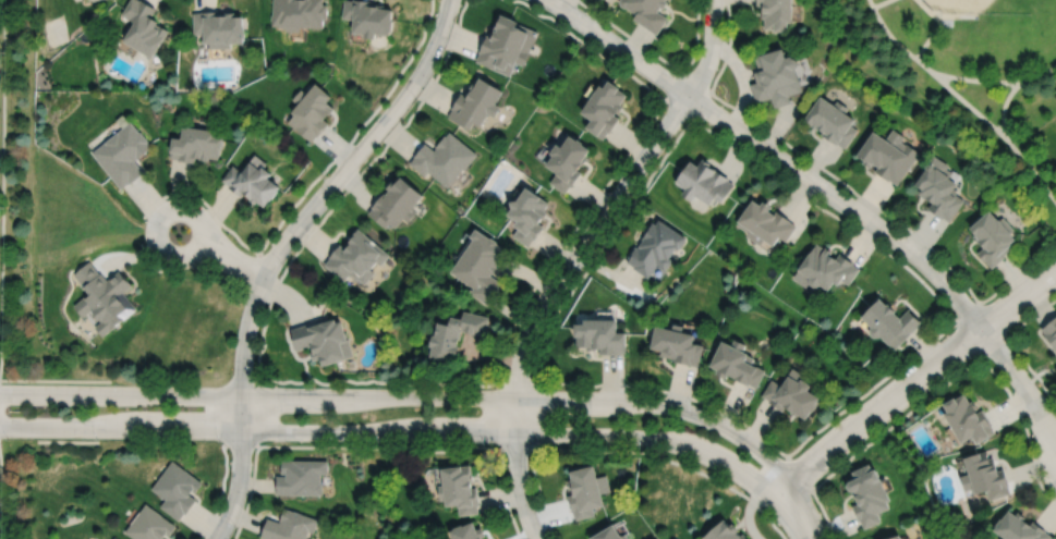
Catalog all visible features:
building: (89, 0)
road: (879, 3)
park: (981, 7)
street lamp: (584, 11)
building: (646, 12)
building: (299, 13)
building: (776, 13)
road: (943, 14)
building: (369, 16)
building: (143, 27)
building: (219, 27)
street lamp: (724, 36)
road: (928, 36)
building: (508, 45)
road: (659, 56)
road: (681, 72)
park: (967, 73)
road: (946, 75)
building: (775, 76)
road: (664, 98)
road: (666, 98)
street lamp: (416, 101)
building: (477, 103)
road: (969, 106)
building: (604, 107)
building: (312, 111)
road: (693, 118)
street lamp: (704, 119)
building: (832, 120)
building: (195, 145)
road: (1010, 145)
building: (123, 155)
road: (773, 155)
building: (888, 155)
building: (445, 159)
road: (810, 160)
building: (570, 162)
street lamp: (627, 162)
street lamp: (323, 176)
street lamp: (829, 180)
building: (253, 182)
building: (703, 182)
road: (2, 184)
building: (939, 188)
road: (615, 198)
road: (316, 204)
building: (397, 204)
road: (173, 208)
road: (287, 211)
building: (530, 216)
building: (765, 223)
building: (992, 238)
building: (655, 247)
street lamp: (932, 254)
building: (356, 258)
road: (903, 264)
street lamp: (282, 267)
building: (482, 267)
street lamp: (163, 268)
street lamp: (581, 268)
building: (825, 269)
road: (1015, 274)
building: (105, 298)
building: (890, 323)
building: (1051, 333)
building: (458, 335)
building: (600, 336)
road: (1007, 336)
building: (324, 342)
building: (676, 345)
road: (1013, 345)
road: (983, 354)
road: (982, 356)
street lamp: (971, 357)
building: (736, 365)
street lamp: (254, 368)
street lamp: (531, 371)
road: (917, 378)
road: (54, 380)
road: (1020, 381)
street lamp: (10, 383)
street lamp: (117, 383)
road: (414, 384)
road: (519, 384)
road: (939, 389)
street lamp: (875, 391)
building: (793, 394)
road: (408, 396)
street lamp: (692, 403)
road: (256, 409)
road: (503, 416)
building: (969, 418)
road: (396, 433)
road: (533, 433)
street lamp: (7, 438)
street lamp: (98, 438)
street lamp: (220, 441)
street lamp: (380, 442)
road: (243, 443)
street lamp: (486, 443)
road: (377, 448)
street lamp: (642, 448)
road: (624, 452)
street lamp: (781, 457)
road: (518, 469)
road: (800, 474)
building: (302, 476)
building: (985, 477)
road: (238, 487)
building: (461, 487)
building: (177, 489)
building: (588, 489)
road: (221, 492)
building: (870, 492)
road: (799, 513)
building: (149, 525)
building: (290, 525)
street lamp: (235, 528)
building: (1019, 528)
building: (470, 530)
building: (724, 530)
building: (614, 532)
building: (895, 537)
building: (114, 538)

